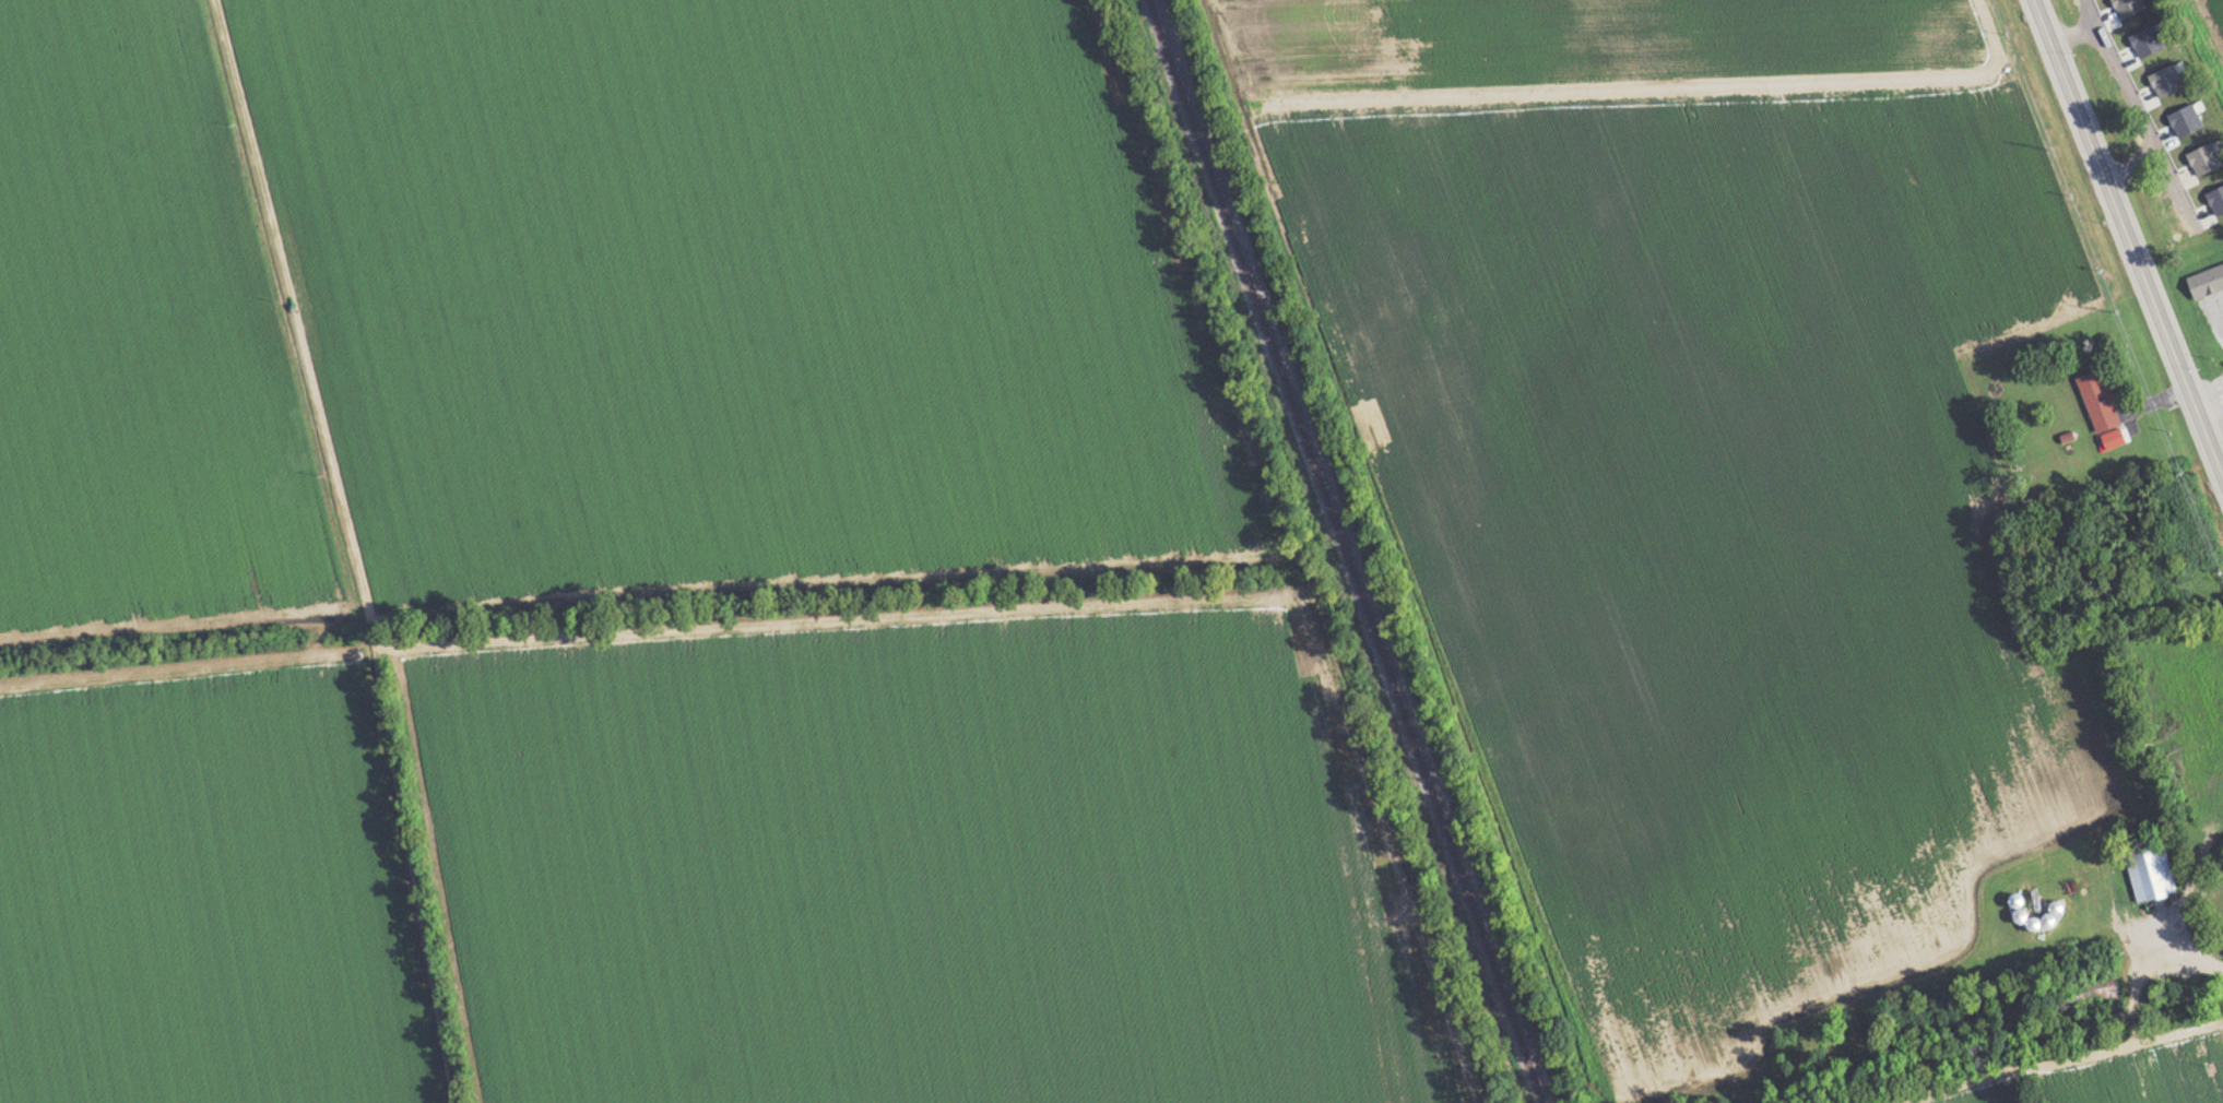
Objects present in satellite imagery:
building: (2129, 7)
building: (2148, 41)
building: (2166, 81)
building: (2186, 121)
building: (2204, 159)
building: (2216, 201)
road: (2128, 236)
building: (2207, 282)
building: (2100, 401)
road: (353, 549)
railway: (1347, 551)
building: (2153, 875)
building: (2021, 917)
building: (2048, 918)

